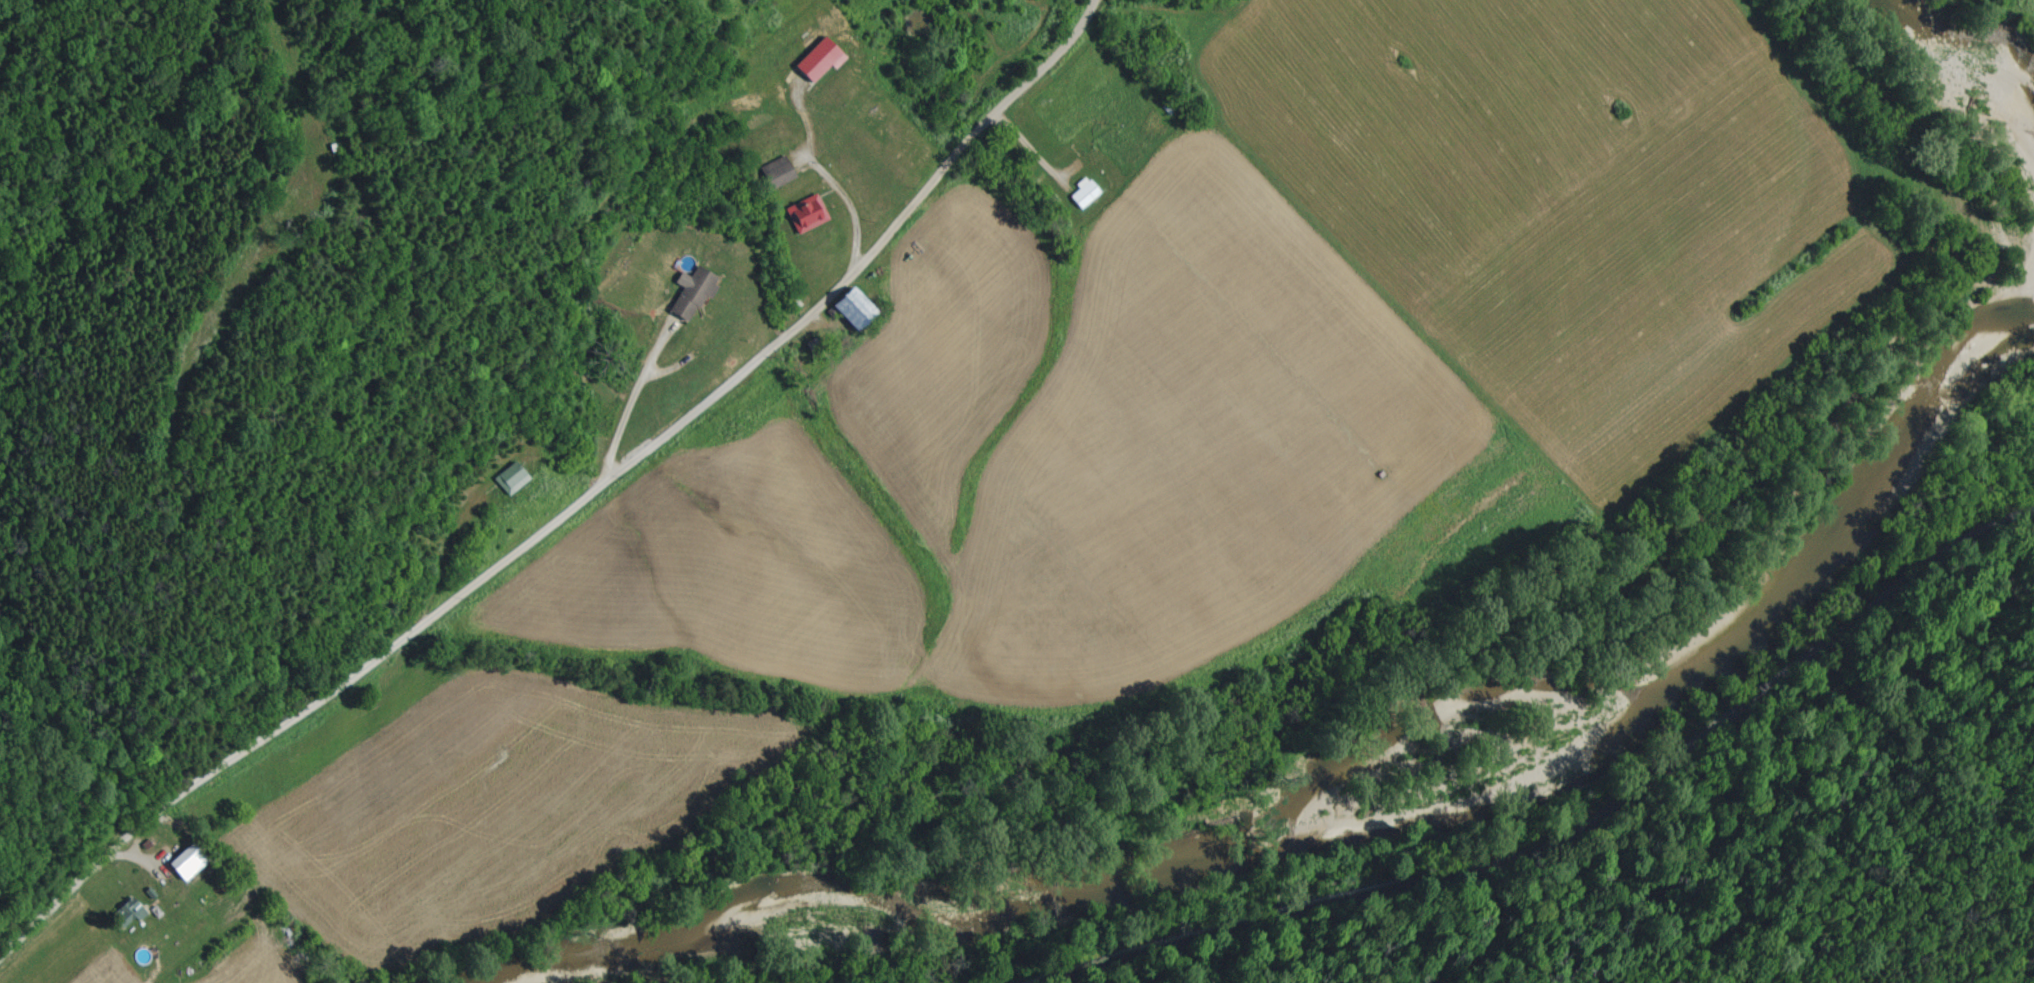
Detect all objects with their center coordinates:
building: (813, 61)
river: (1988, 72)
building: (774, 173)
building: (1080, 195)
road: (845, 212)
building: (804, 215)
building: (686, 294)
building: (845, 308)
crop: (1085, 445)
building: (507, 479)
road: (577, 515)
river: (1385, 823)
road: (1575, 825)
building: (178, 866)
building: (122, 915)

